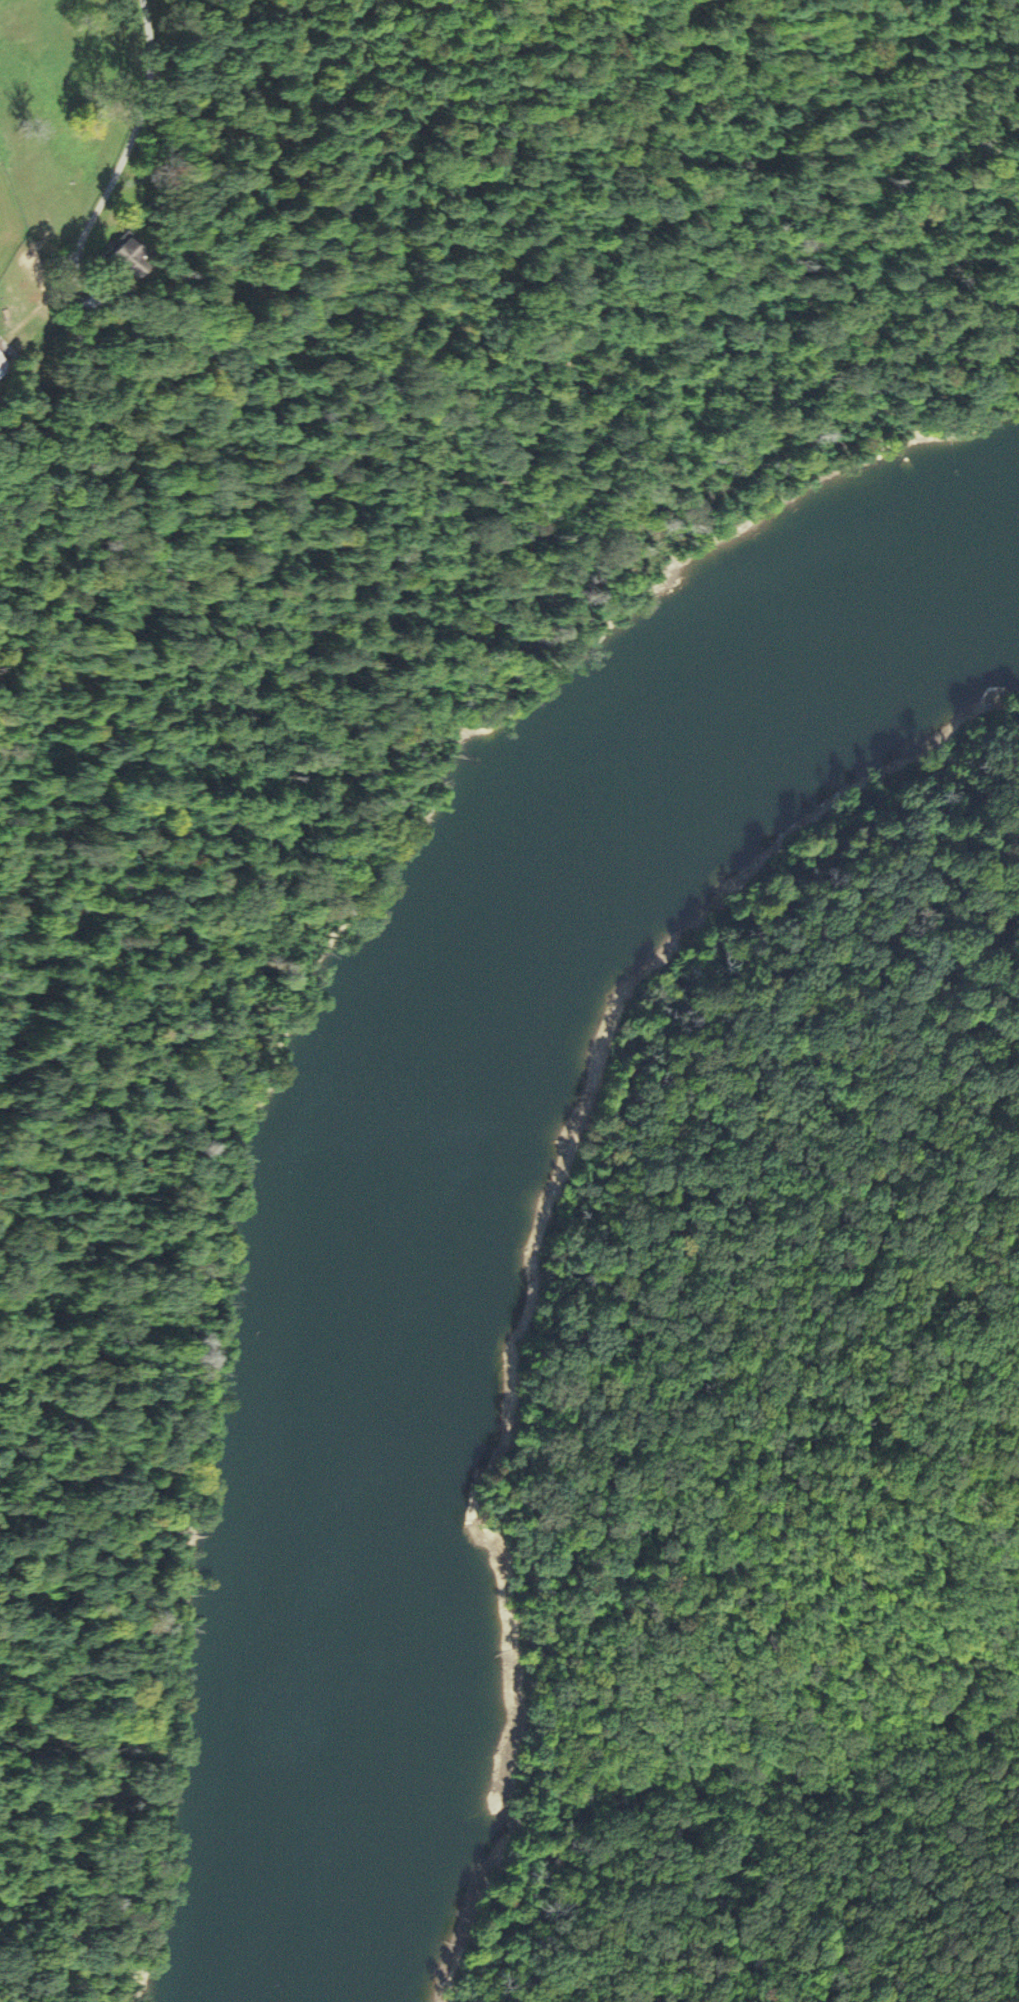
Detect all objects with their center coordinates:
road: (121, 151)
road: (34, 358)
building: (1, 368)
building: (907, 466)
river: (402, 1130)

